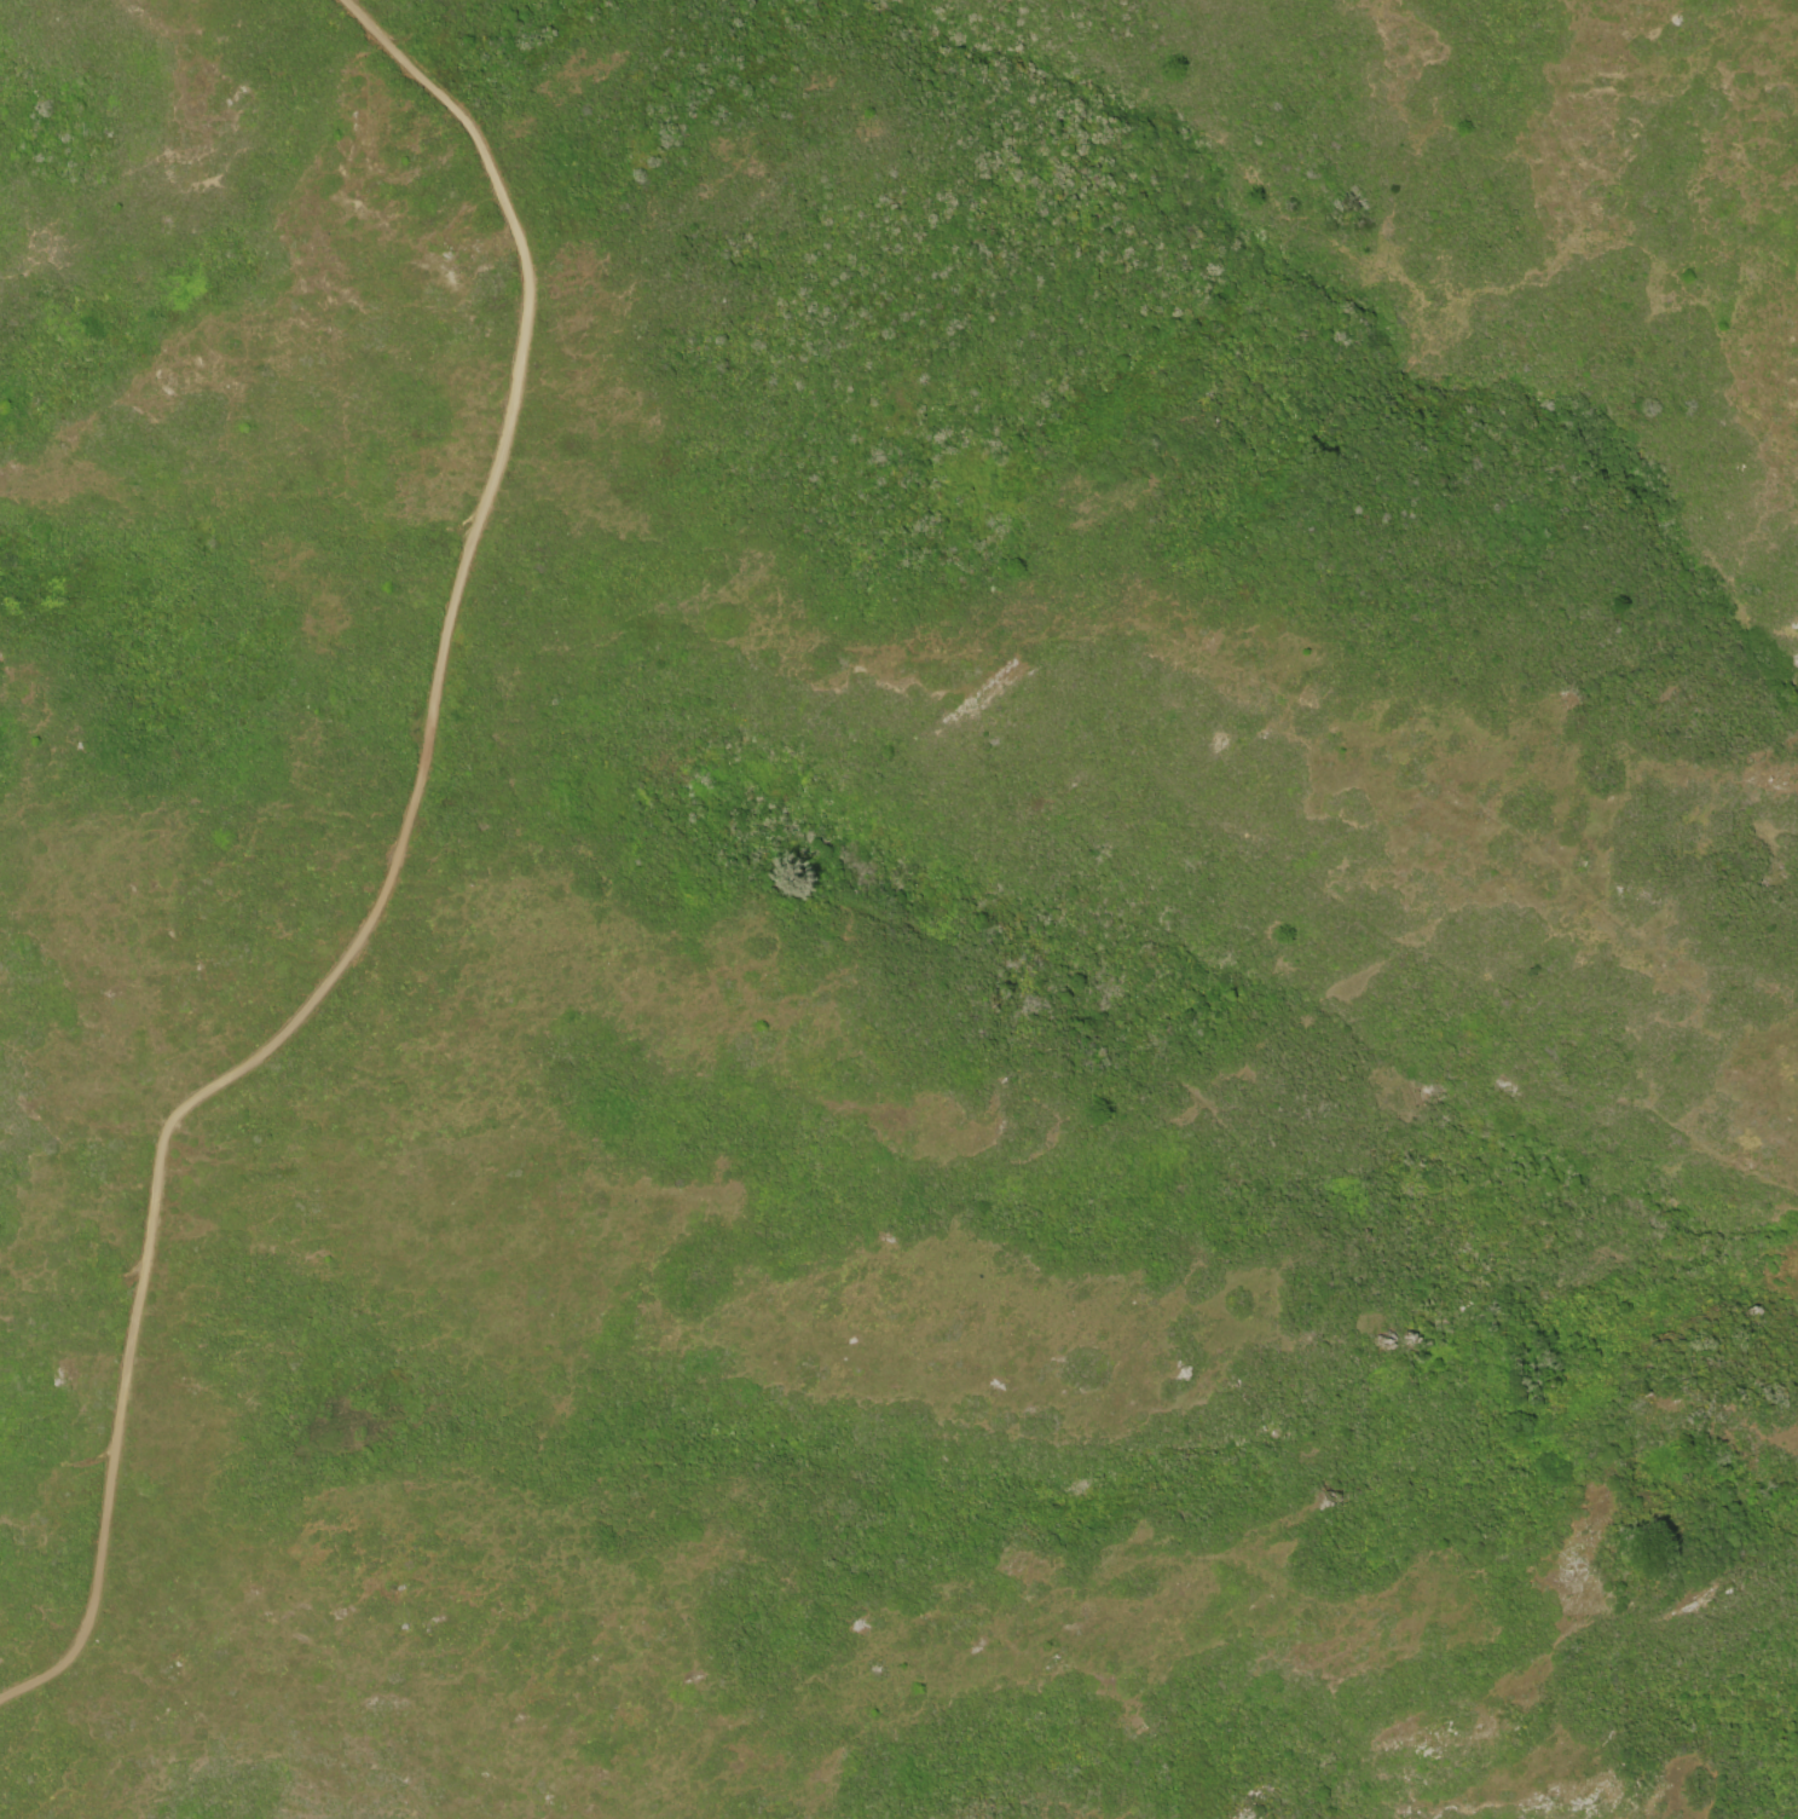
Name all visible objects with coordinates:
road: (387, 879)

